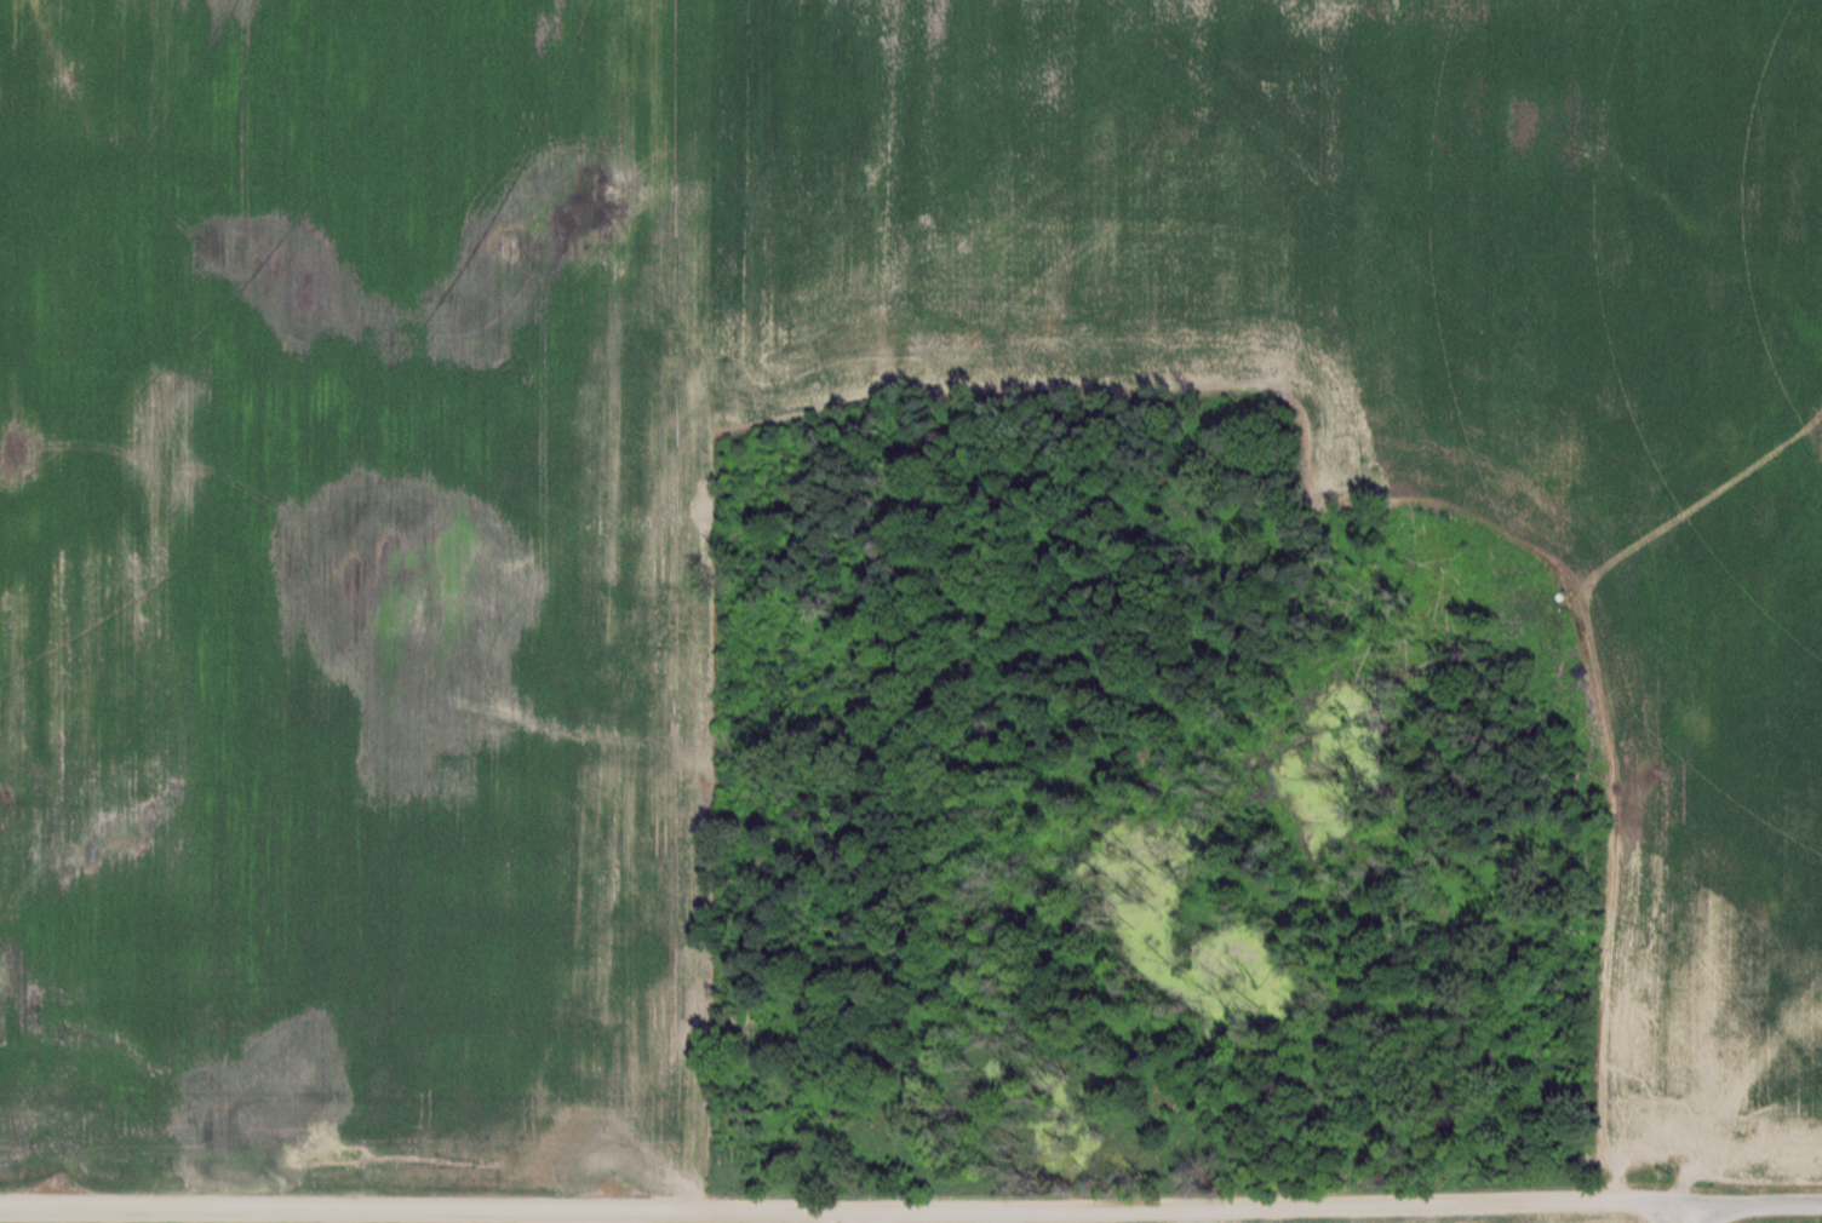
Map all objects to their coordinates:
road: (911, 1210)
road: (1704, 1215)
road: (846, 1217)

